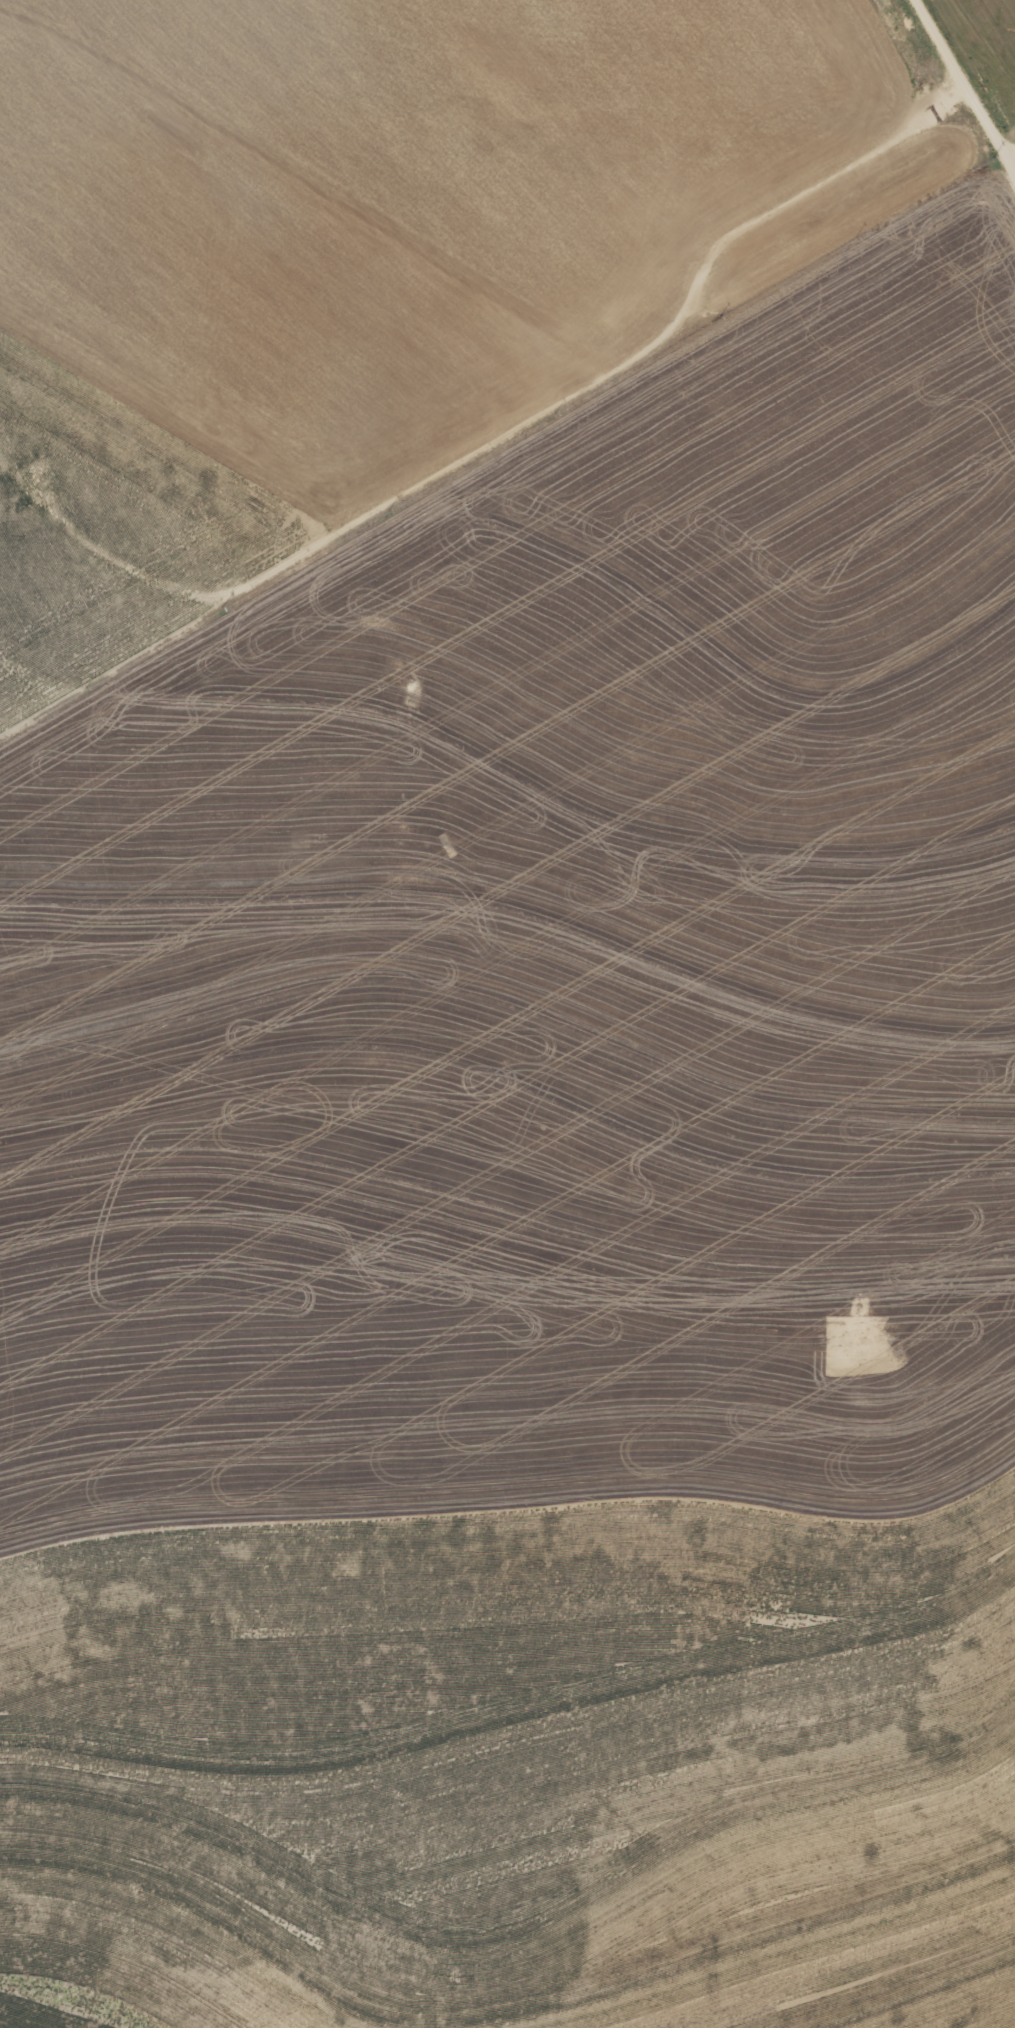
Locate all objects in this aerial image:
road: (964, 84)
road: (1011, 153)

